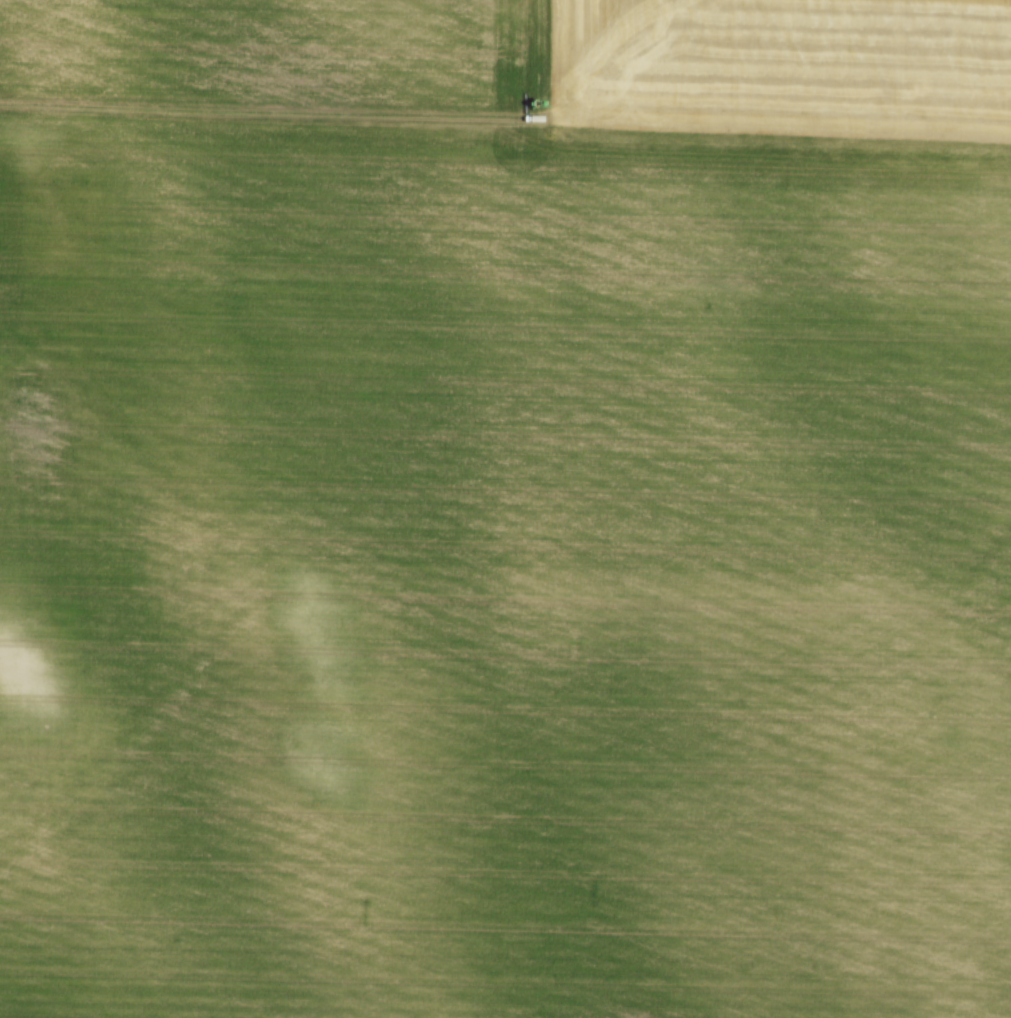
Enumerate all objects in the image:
crop: (505, 509)

